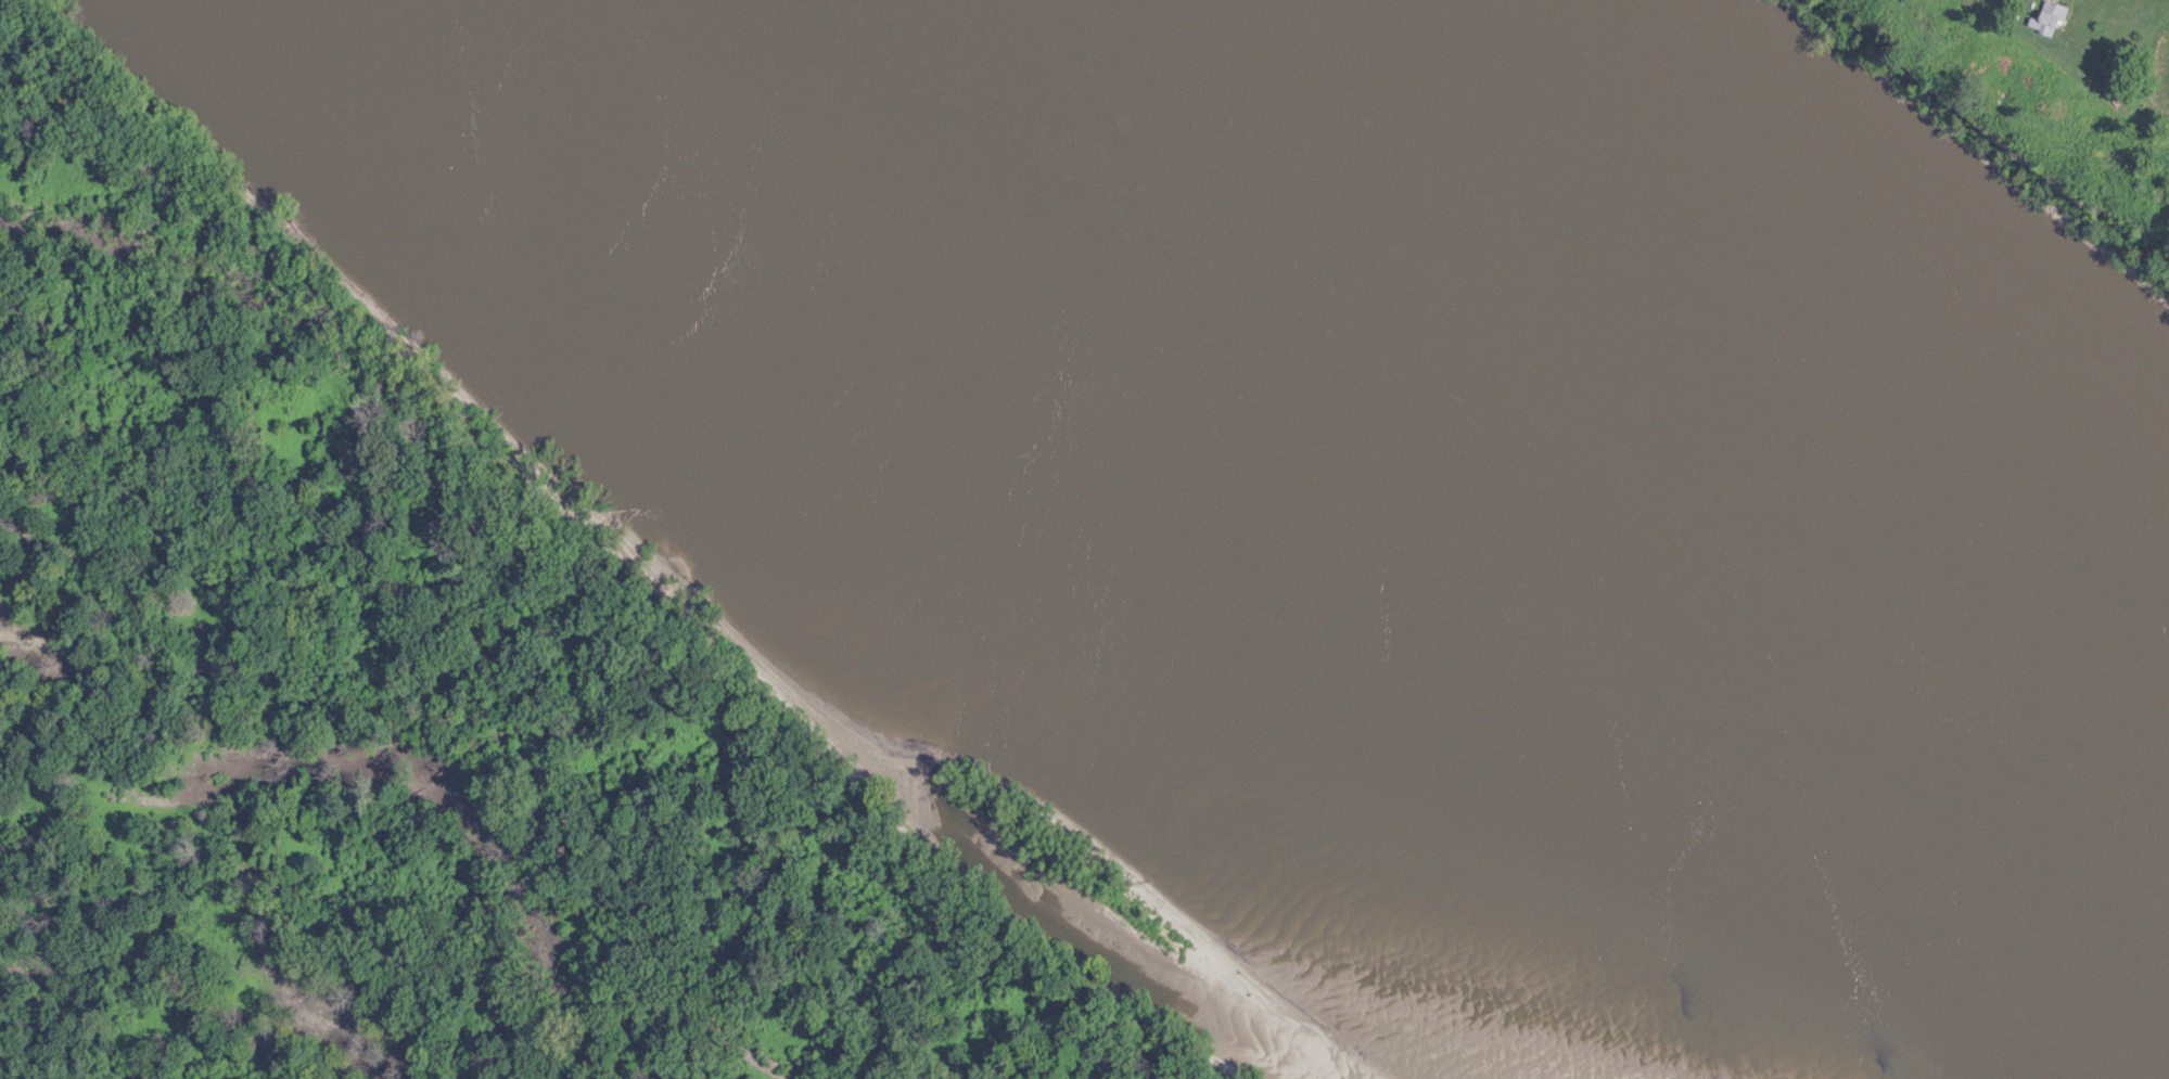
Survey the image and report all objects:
building: (2049, 16)

